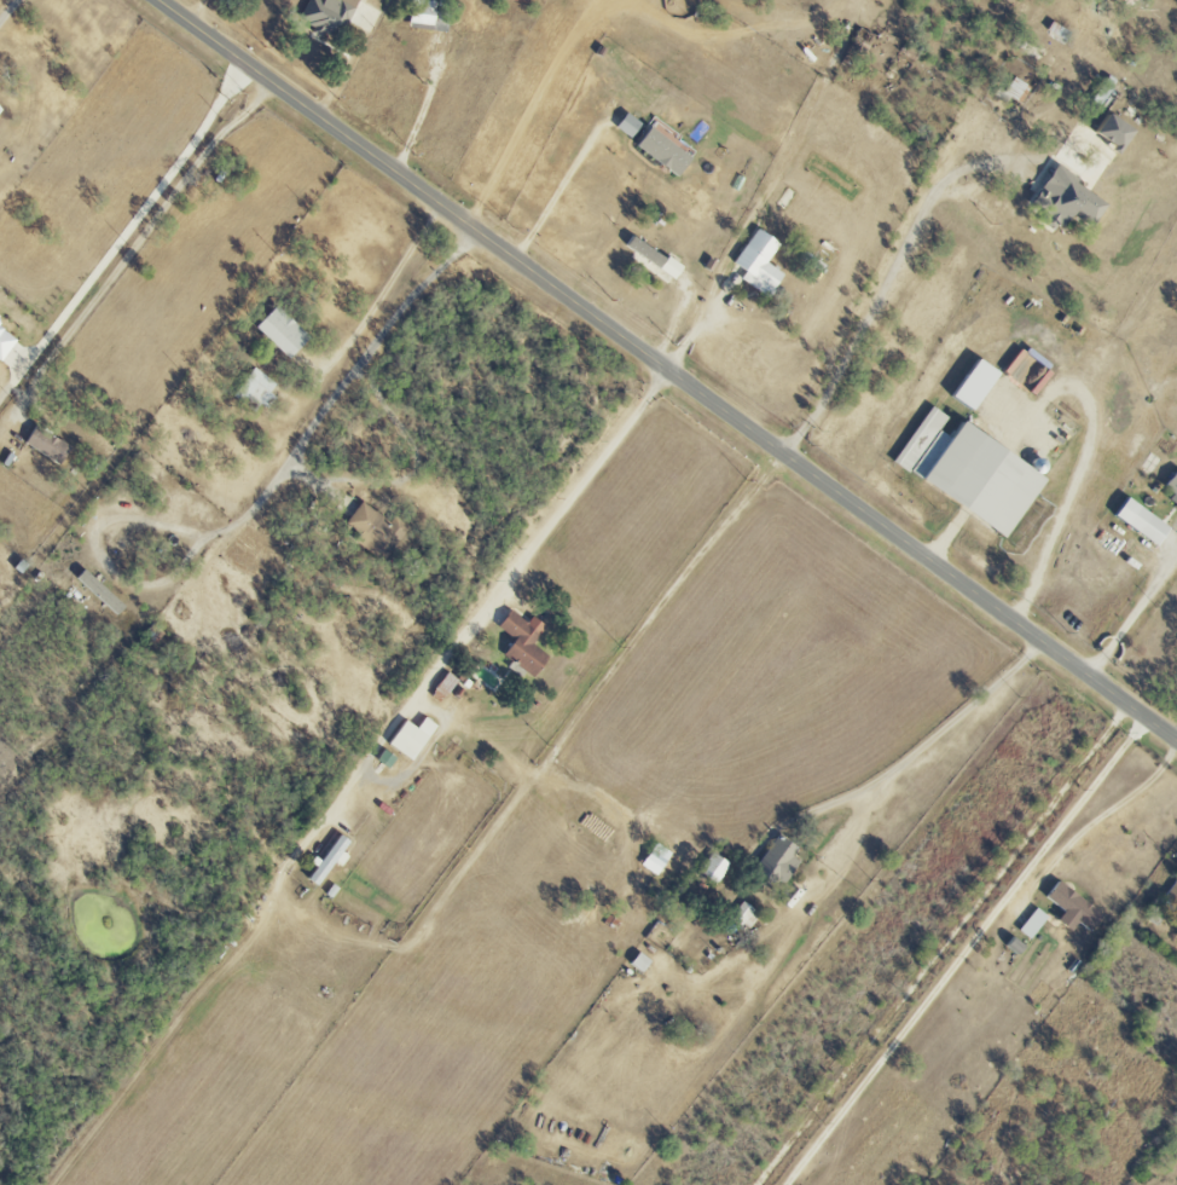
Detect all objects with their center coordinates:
road: (7, 8)
building: (424, 13)
building: (330, 16)
building: (1014, 89)
road: (424, 108)
building: (0, 115)
building: (700, 131)
building: (1117, 132)
building: (666, 151)
road: (574, 174)
building: (1068, 201)
road: (123, 230)
road: (139, 247)
building: (655, 256)
building: (761, 264)
road: (881, 294)
road: (375, 305)
building: (1, 319)
road: (700, 322)
building: (283, 333)
road: (376, 341)
building: (6, 343)
road: (668, 370)
building: (978, 385)
building: (257, 389)
building: (50, 445)
road: (1079, 467)
road: (414, 470)
building: (973, 472)
building: (1173, 489)
road: (129, 516)
building: (1144, 521)
building: (377, 531)
building: (103, 592)
road: (494, 597)
road: (1132, 615)
building: (526, 643)
building: (413, 738)
road: (928, 742)
road: (1100, 819)
building: (657, 859)
building: (332, 860)
building: (781, 861)
building: (715, 868)
building: (1171, 896)
building: (1075, 908)
building: (747, 914)
building: (1034, 924)
road: (941, 946)
road: (967, 952)
building: (642, 963)

